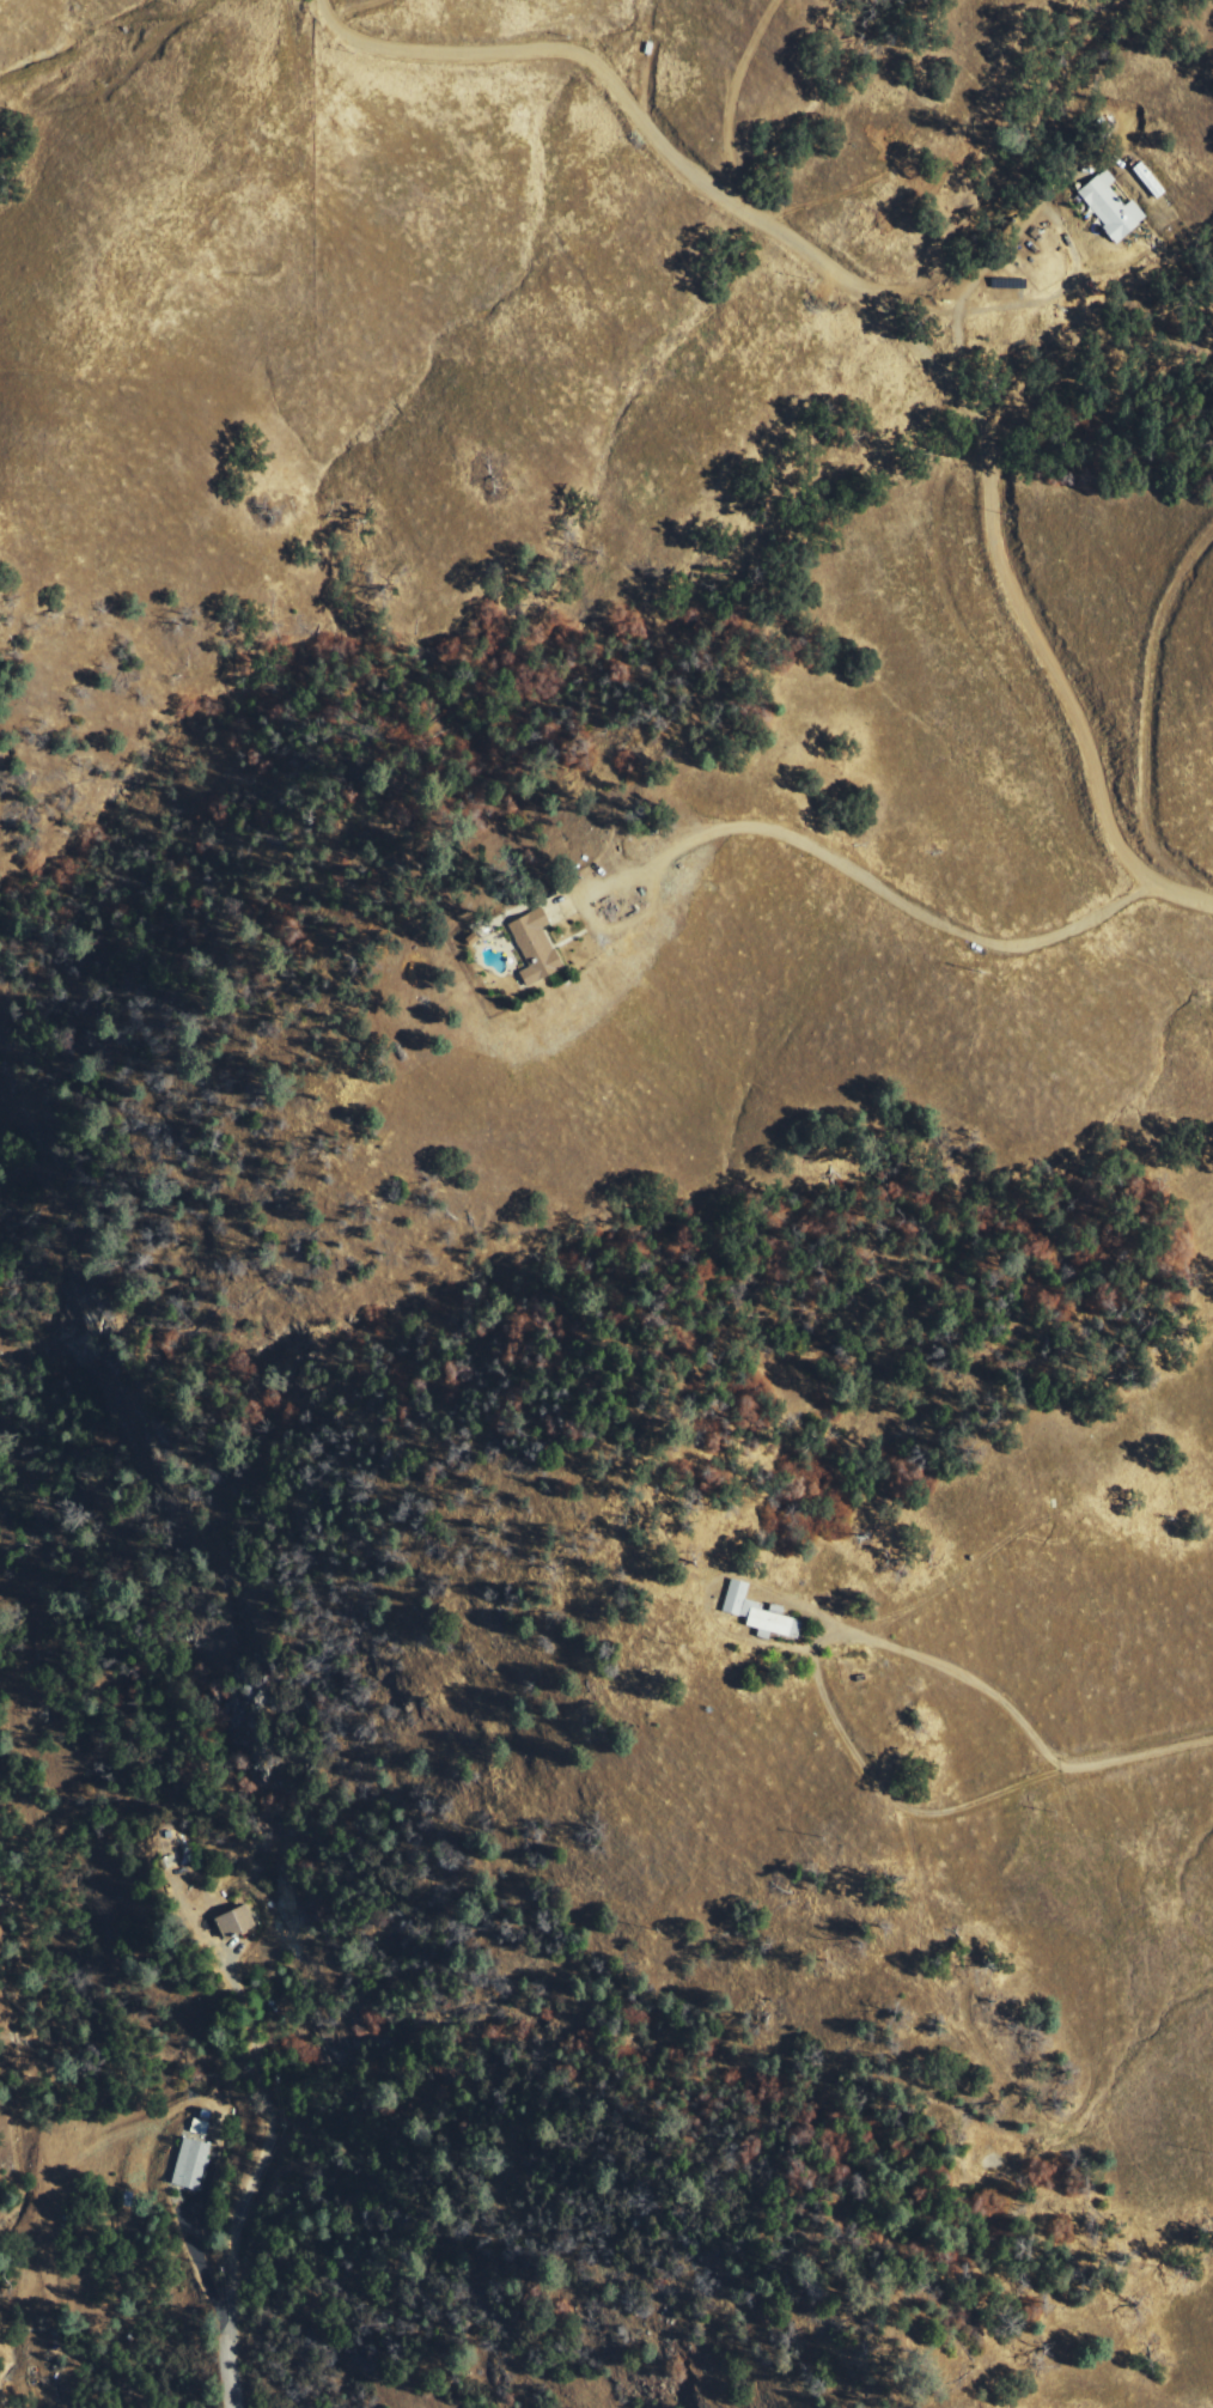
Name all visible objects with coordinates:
building: (1110, 208)
road: (904, 314)
road: (879, 882)
building: (545, 945)
building: (762, 1613)
road: (816, 1674)
road: (1133, 1758)
building: (239, 1923)
building: (201, 2127)
building: (193, 2164)
road: (239, 2261)

